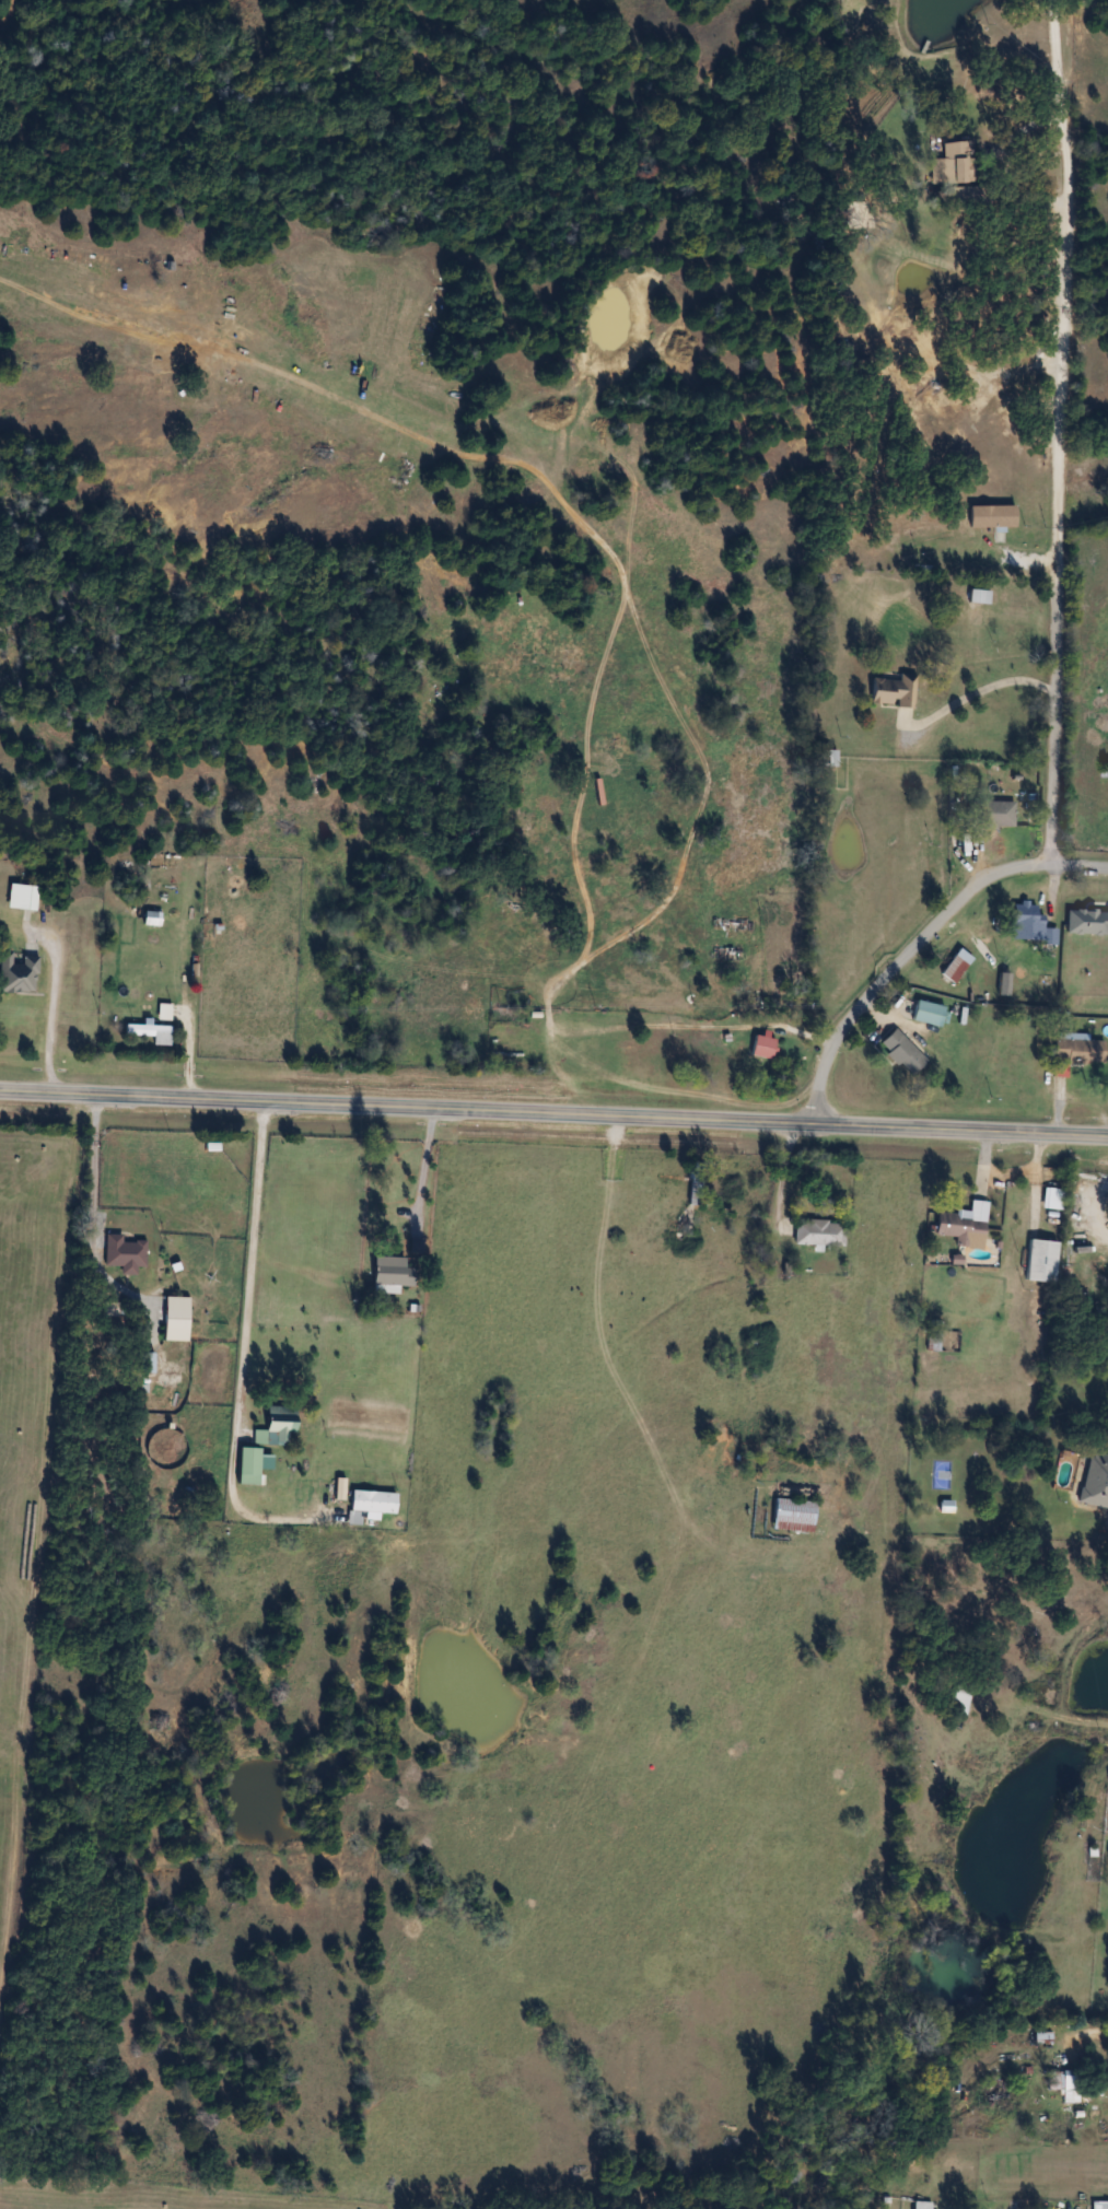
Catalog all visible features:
road: (1057, 81)
building: (955, 162)
road: (1058, 513)
building: (979, 597)
building: (894, 692)
road: (979, 692)
building: (828, 758)
building: (1000, 814)
road: (1078, 866)
building: (22, 897)
building: (1027, 919)
building: (1087, 922)
road: (899, 962)
building: (956, 966)
building: (18, 973)
building: (164, 1012)
building: (929, 1013)
road: (50, 1014)
building: (151, 1032)
building: (708, 1041)
building: (1080, 1051)
building: (902, 1052)
road: (553, 1113)
road: (94, 1162)
road: (423, 1177)
building: (695, 1185)
building: (960, 1228)
building: (819, 1232)
building: (124, 1254)
building: (392, 1272)
building: (176, 1319)
building: (935, 1341)
road: (243, 1351)
building: (276, 1425)
building: (252, 1465)
building: (1096, 1480)
building: (370, 1505)
building: (945, 1506)
building: (793, 1515)
building: (959, 1700)
road: (1089, 2032)
building: (1064, 2084)
building: (922, 2205)

